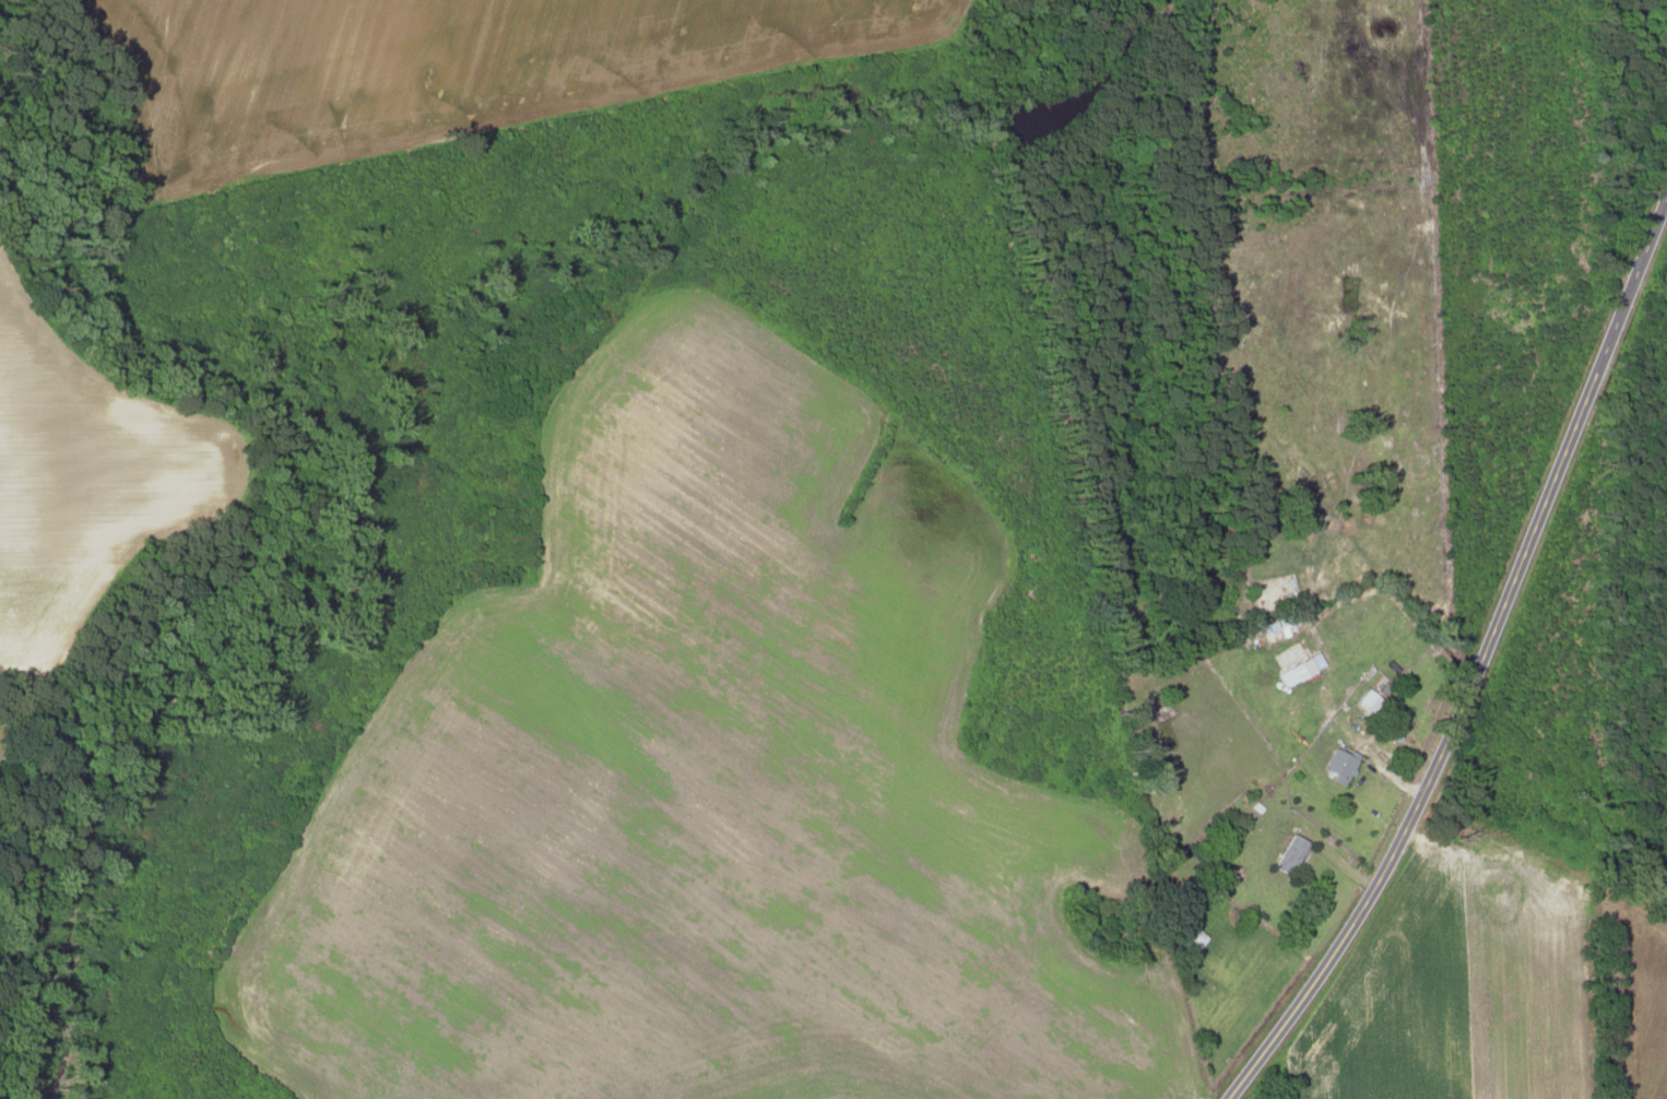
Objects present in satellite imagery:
road: (1476, 660)
building: (1299, 669)
building: (1368, 699)
building: (1338, 764)
building: (1289, 853)

